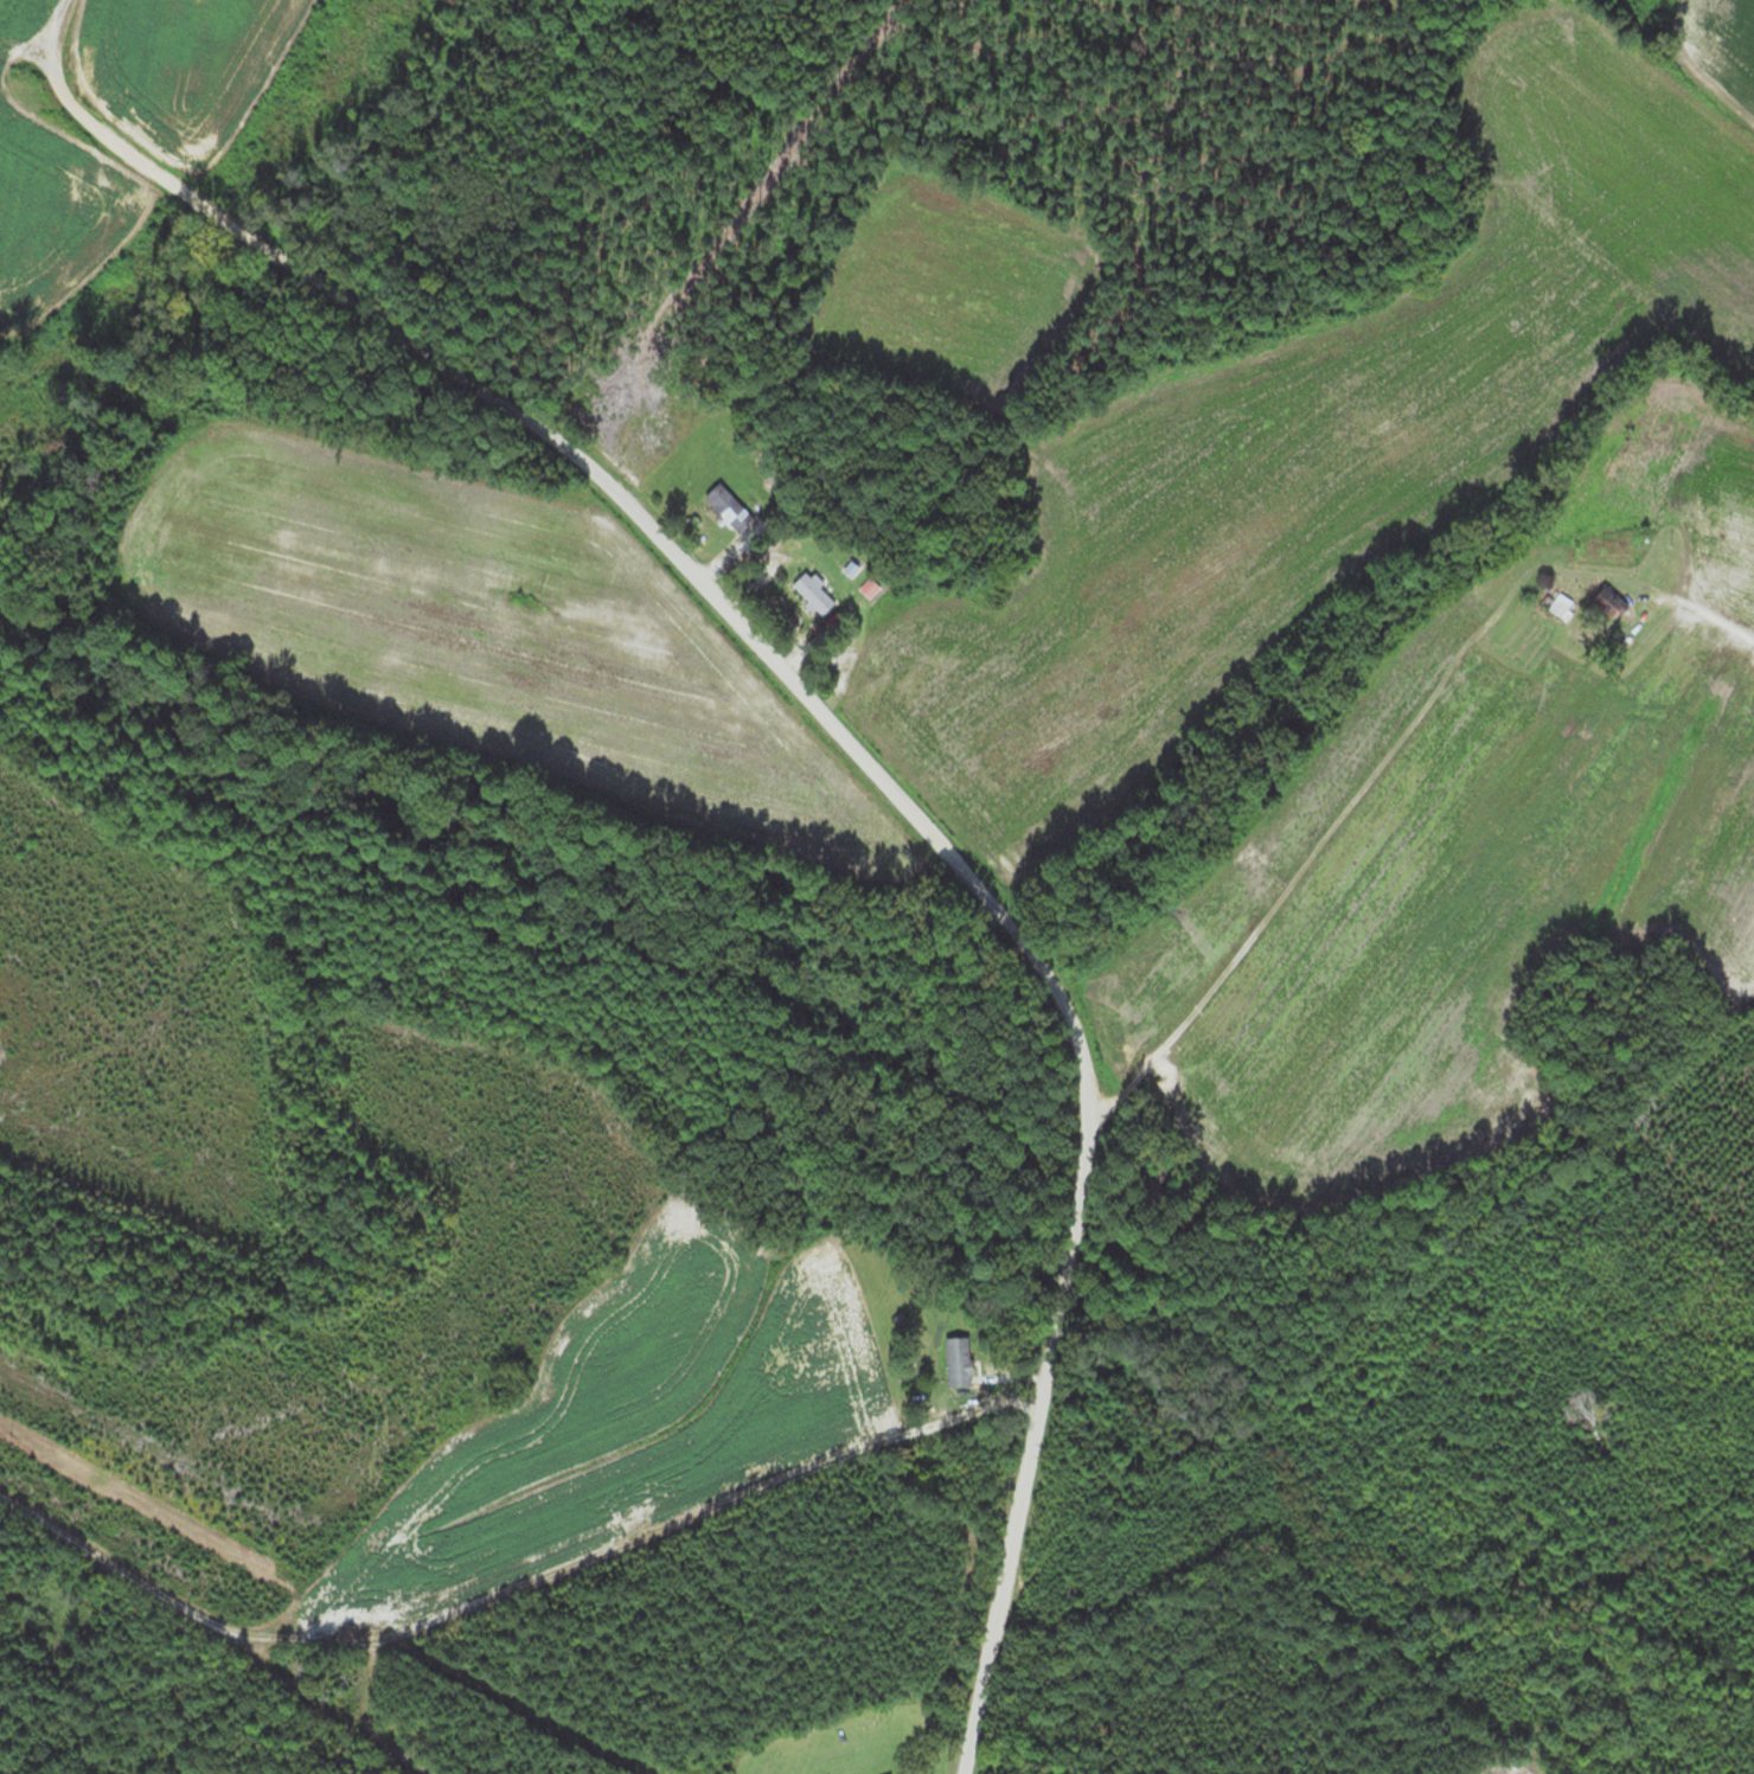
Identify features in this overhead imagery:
building: (731, 507)
building: (814, 594)
building: (1608, 598)
building: (1562, 606)
road: (1715, 614)
road: (845, 735)
road: (1370, 766)
building: (960, 1360)
road: (171, 1658)

